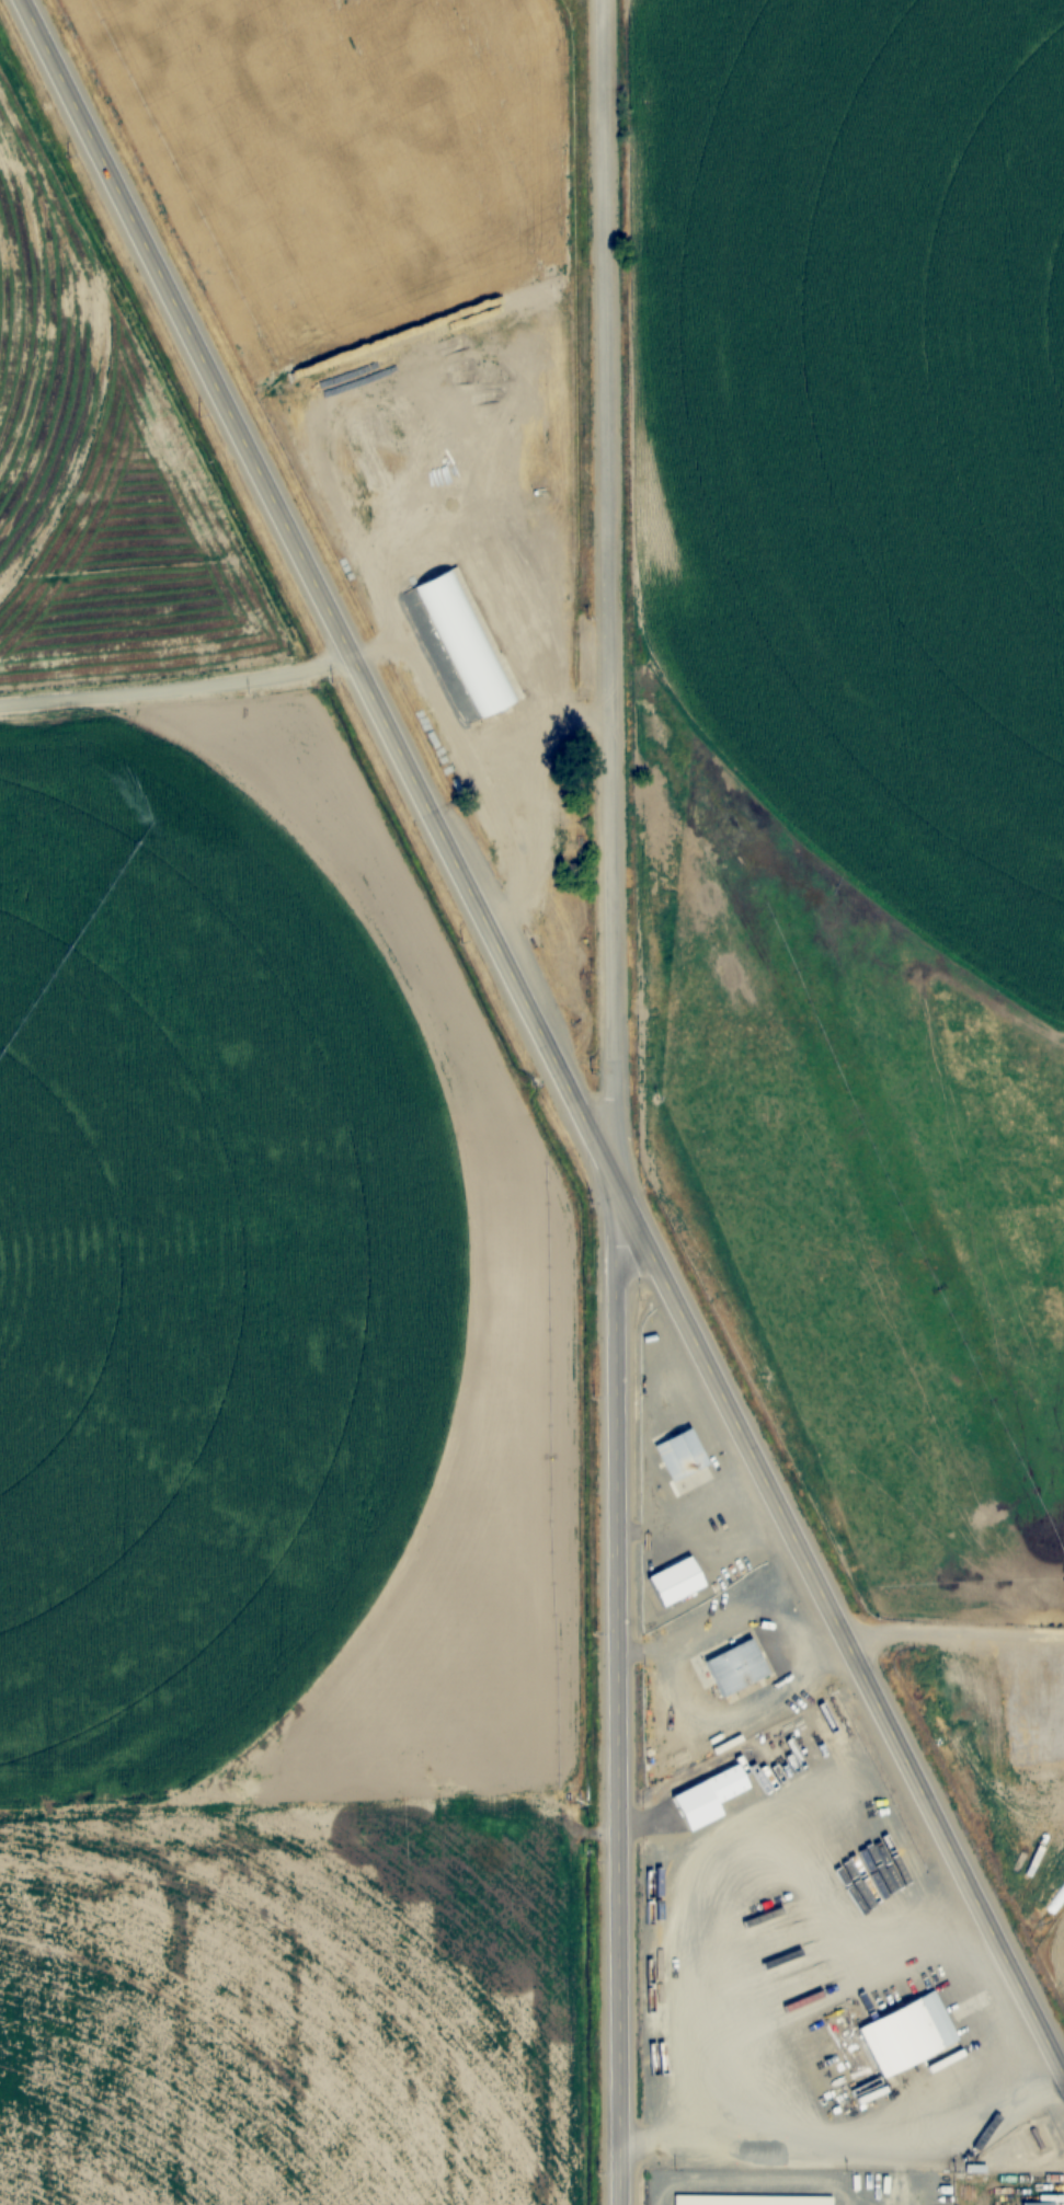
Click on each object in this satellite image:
building: (560, 406)
road: (606, 588)
building: (467, 644)
road: (176, 685)
road: (542, 1040)
building: (683, 1455)
road: (950, 1630)
building: (736, 1668)
road: (613, 1691)
building: (708, 1798)
building: (909, 2036)
building: (753, 2200)
building: (1039, 2204)

